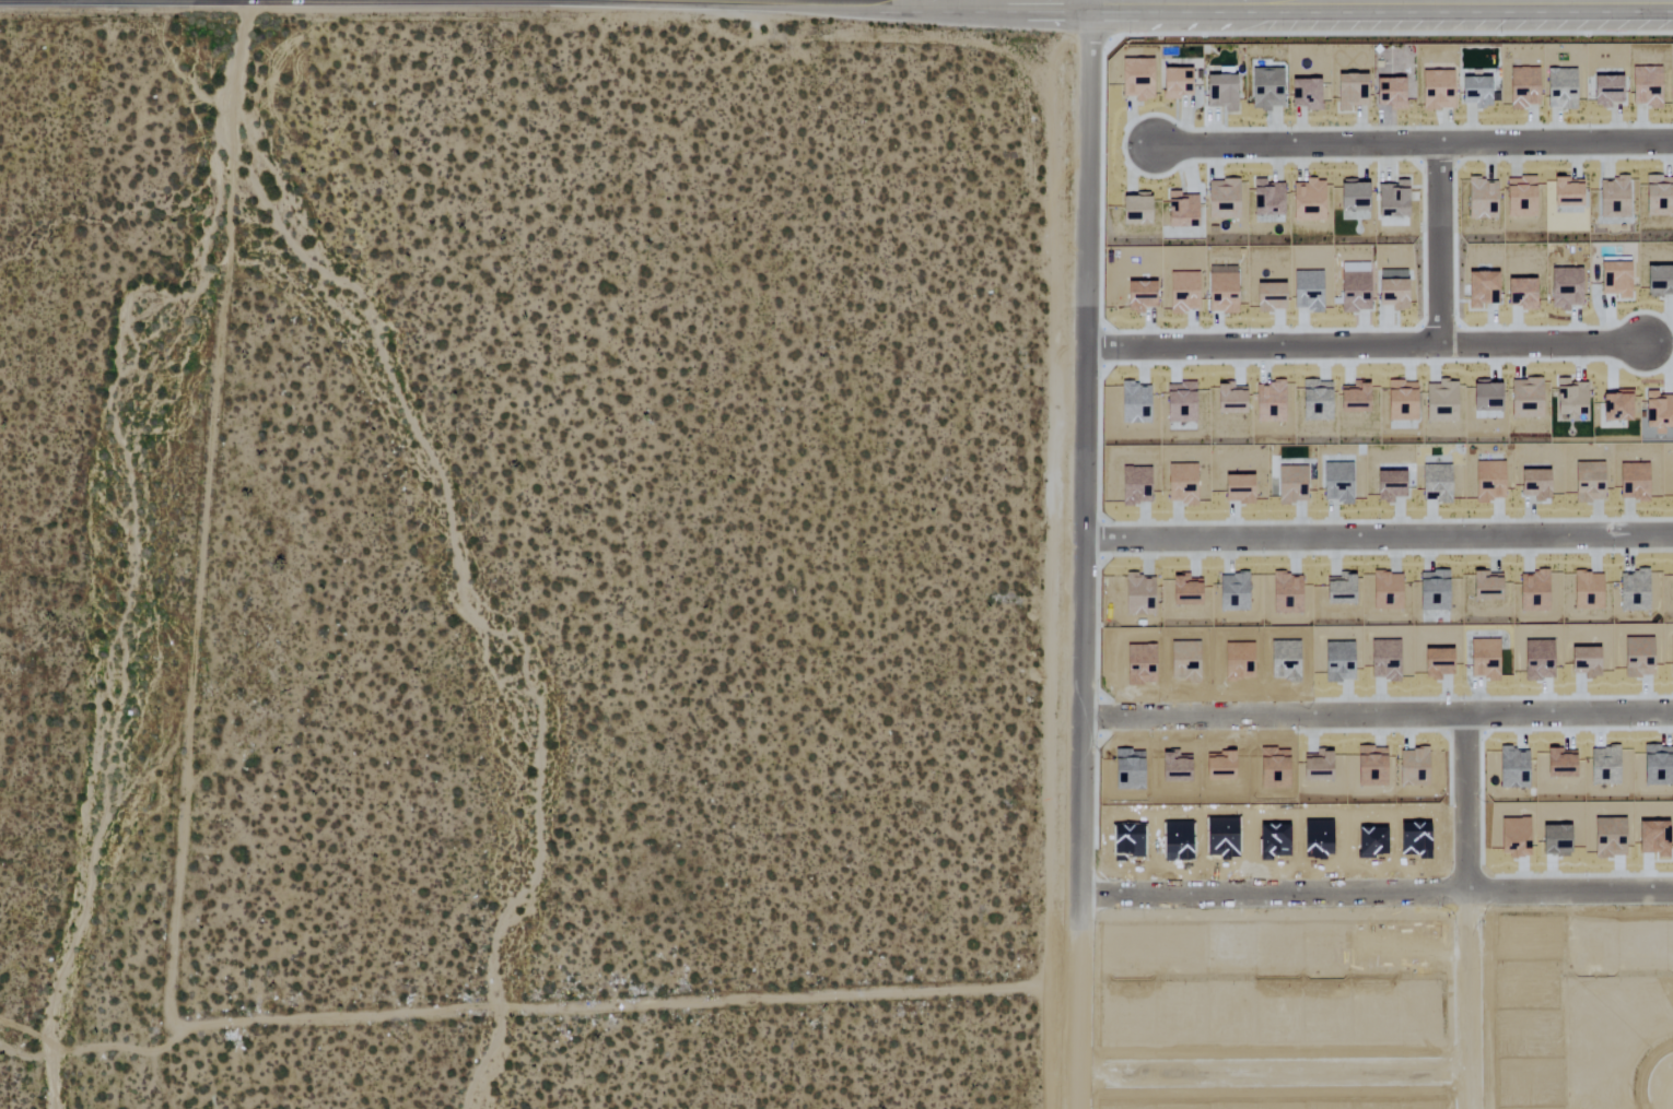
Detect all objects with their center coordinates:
road: (124, 0)
road: (1091, 0)
road: (1319, 0)
building: (1135, 79)
building: (1173, 83)
building: (1645, 86)
building: (1264, 87)
building: (1435, 91)
building: (1604, 91)
building: (1219, 92)
building: (1349, 92)
building: (1473, 92)
building: (1387, 93)
building: (1302, 94)
road: (1414, 146)
building: (1659, 191)
building: (1565, 192)
building: (1222, 196)
building: (1266, 197)
building: (1350, 197)
building: (1479, 197)
building: (1519, 197)
building: (1612, 198)
building: (1391, 199)
building: (1133, 205)
building: (1182, 207)
road: (1439, 245)
road: (1089, 269)
building: (1614, 279)
building: (1657, 281)
building: (1478, 288)
building: (1220, 293)
building: (1391, 294)
building: (1519, 294)
building: (1138, 296)
road: (1365, 344)
building: (1524, 394)
building: (1484, 397)
building: (1567, 398)
building: (1229, 399)
building: (1270, 400)
building: (1133, 403)
building: (1179, 403)
building: (1615, 408)
building: (1658, 410)
building: (1442, 488)
building: (1533, 489)
building: (1389, 493)
building: (1343, 497)
road: (1380, 535)
building: (1672, 586)
building: (1388, 587)
building: (1484, 587)
building: (1338, 588)
building: (1588, 588)
building: (1231, 591)
building: (1431, 591)
building: (1637, 597)
road: (1372, 719)
road: (1071, 823)
road: (1371, 887)
road: (1469, 913)
road: (531, 1008)
road: (1268, 1074)
road: (1668, 1093)

